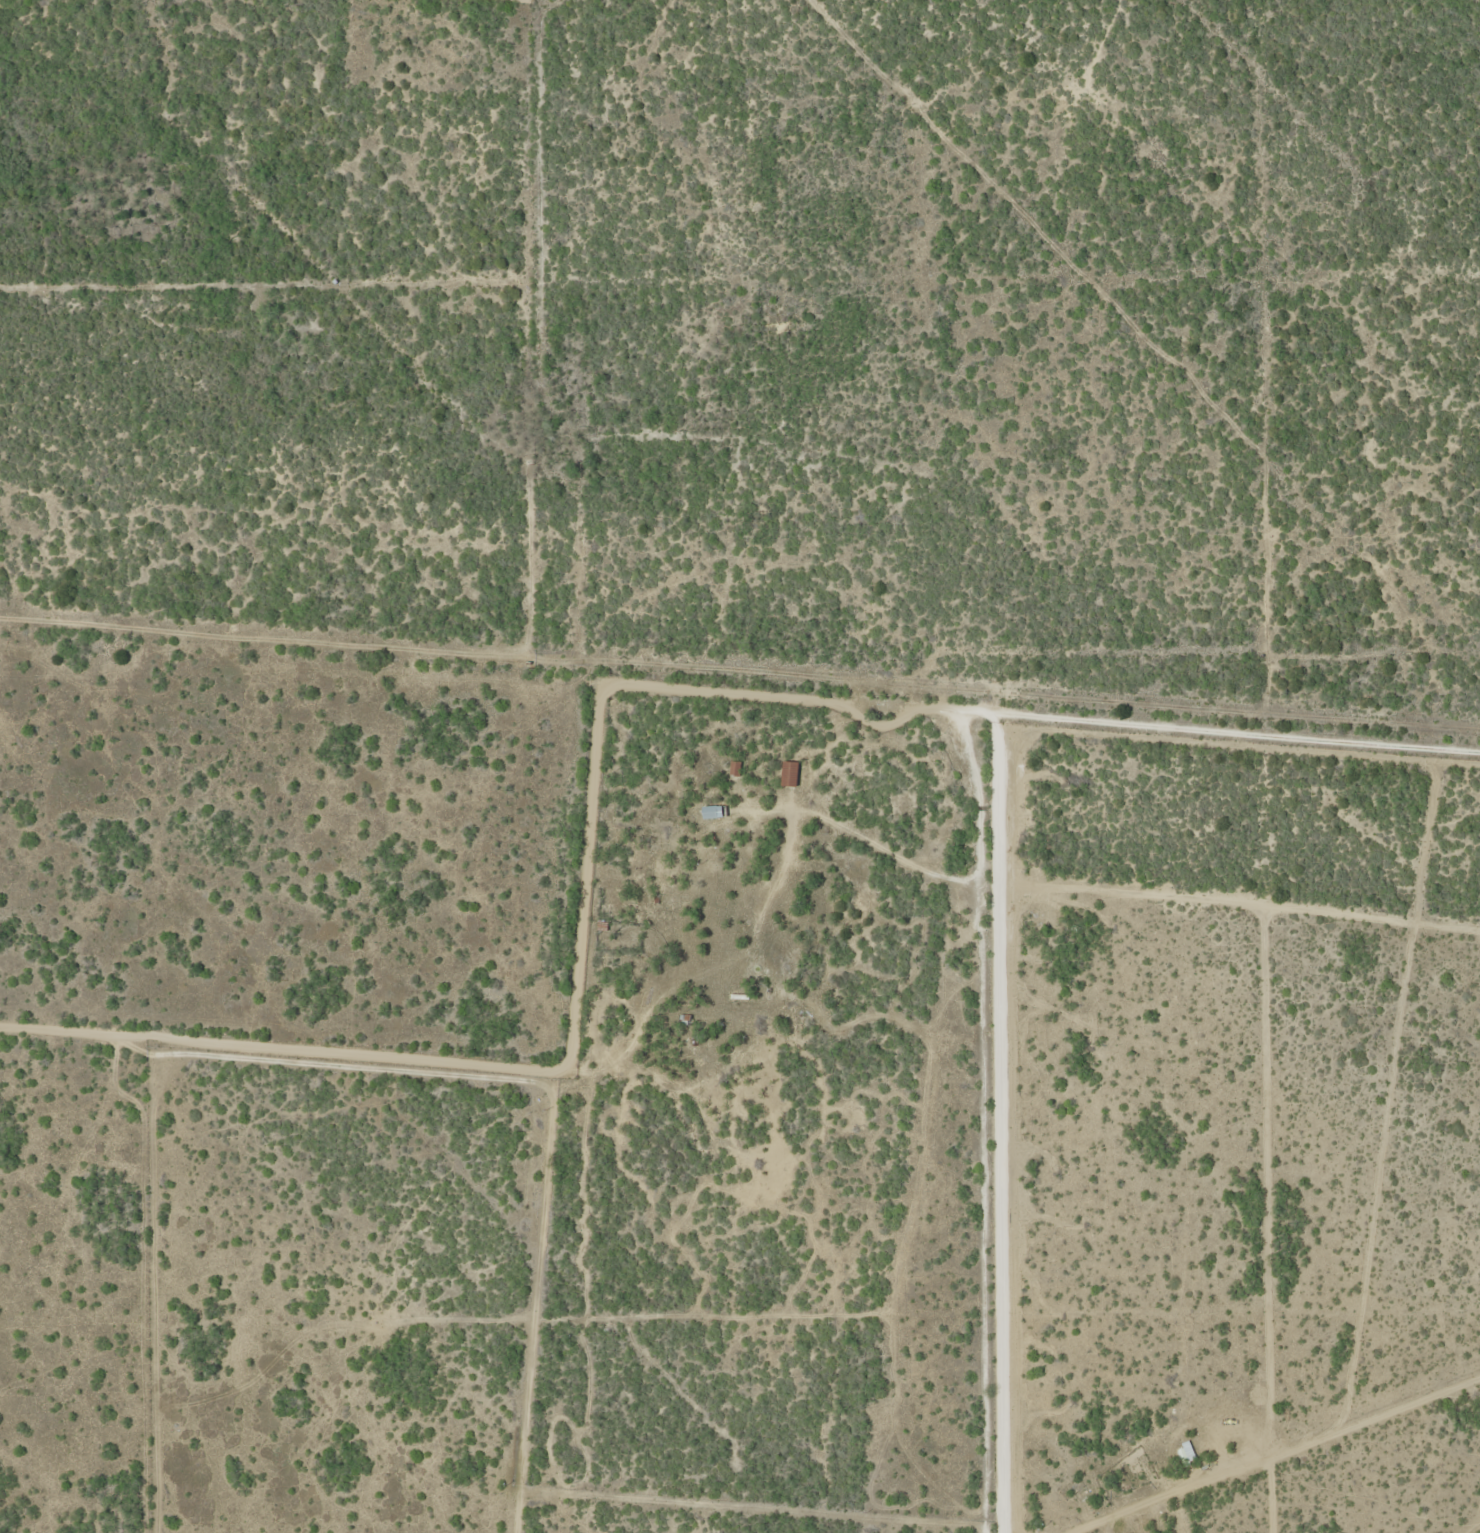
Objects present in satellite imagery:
road: (534, 290)
building: (733, 769)
building: (787, 774)
building: (707, 813)
road: (485, 1045)

